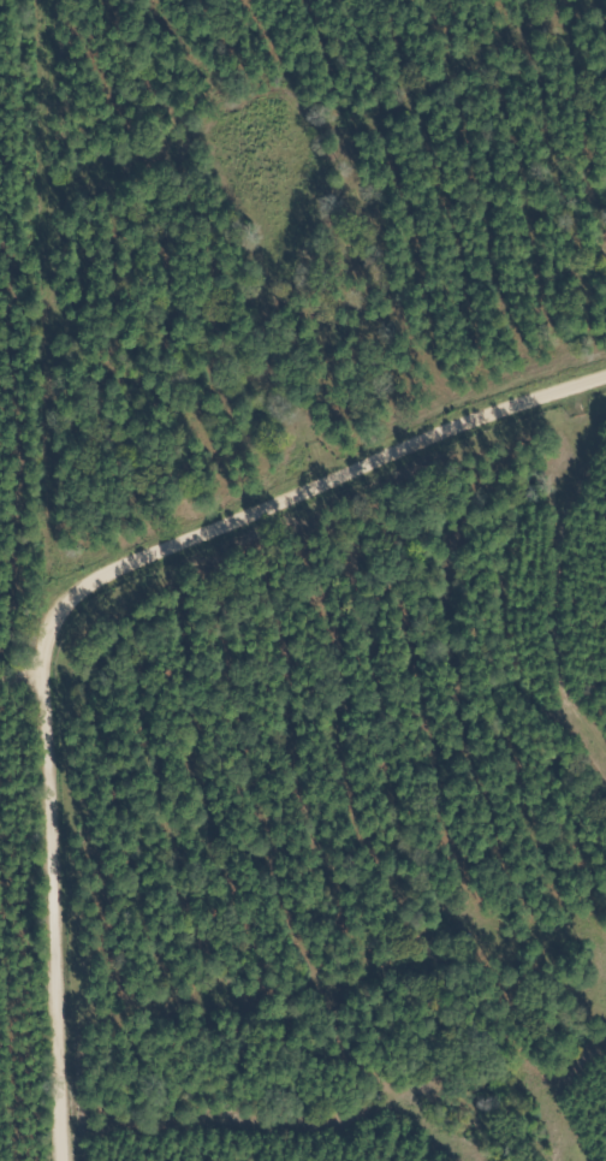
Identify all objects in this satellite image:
road: (69, 588)
road: (19, 674)

